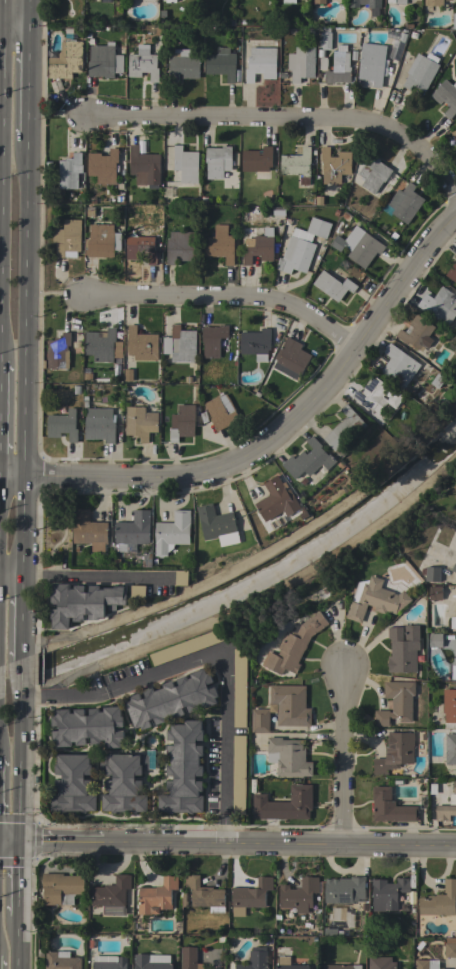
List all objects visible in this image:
building: (106, 1)
building: (170, 1)
building: (288, 1)
building: (319, 2)
building: (400, 2)
building: (365, 3)
building: (433, 3)
road: (27, 15)
building: (454, 21)
road: (13, 31)
building: (324, 38)
building: (66, 60)
building: (104, 61)
road: (1, 62)
building: (143, 63)
building: (221, 63)
building: (301, 63)
building: (183, 64)
building: (261, 64)
building: (371, 65)
building: (339, 66)
building: (421, 71)
road: (26, 85)
building: (446, 97)
road: (281, 121)
building: (454, 138)
building: (257, 160)
building: (217, 161)
building: (185, 165)
building: (297, 165)
building: (335, 165)
building: (103, 166)
building: (144, 167)
building: (70, 171)
building: (371, 172)
building: (405, 202)
building: (89, 211)
building: (318, 228)
building: (67, 239)
building: (100, 241)
building: (257, 244)
building: (181, 246)
building: (220, 246)
building: (358, 246)
building: (140, 248)
building: (295, 255)
building: (455, 255)
building: (452, 271)
building: (334, 284)
road: (221, 295)
building: (440, 304)
road: (24, 308)
building: (416, 332)
building: (213, 340)
building: (141, 344)
building: (256, 344)
building: (102, 345)
building: (180, 345)
building: (58, 351)
building: (291, 358)
building: (398, 366)
building: (437, 380)
rooftop solar panel: (371, 385)
building: (376, 395)
rooftop solar panel: (358, 397)
rooftop solar panel: (369, 406)
building: (220, 412)
building: (140, 422)
building: (181, 423)
building: (62, 425)
road: (281, 427)
building: (99, 429)
building: (344, 431)
building: (308, 460)
road: (11, 478)
building: (276, 500)
building: (217, 525)
road: (22, 526)
building: (89, 530)
building: (132, 530)
building: (172, 532)
building: (453, 568)
road: (11, 574)
building: (432, 574)
road: (83, 576)
road: (158, 578)
building: (181, 578)
building: (137, 591)
building: (435, 593)
building: (374, 599)
building: (81, 603)
building: (453, 618)
road: (20, 619)
building: (435, 640)
building: (294, 645)
building: (188, 646)
building: (403, 649)
road: (213, 653)
building: (453, 669)
building: (240, 688)
road: (19, 695)
building: (172, 700)
building: (396, 703)
building: (290, 705)
building: (448, 708)
building: (260, 720)
building: (88, 727)
building: (450, 749)
building: (396, 752)
building: (288, 757)
road: (344, 761)
building: (183, 770)
building: (239, 775)
building: (123, 782)
road: (16, 784)
building: (72, 784)
building: (285, 805)
building: (390, 807)
building: (447, 807)
road: (227, 847)
road: (14, 879)
building: (61, 888)
building: (344, 889)
building: (388, 893)
building: (299, 894)
building: (204, 895)
building: (111, 896)
building: (157, 896)
building: (250, 896)
building: (183, 899)
building: (440, 901)
building: (455, 924)
building: (332, 932)
road: (14, 943)
building: (450, 947)
building: (189, 958)
building: (255, 959)
building: (61, 960)
building: (152, 962)
building: (110, 963)
building: (381, 963)
building: (288, 964)
building: (426, 964)
building: (341, 967)

